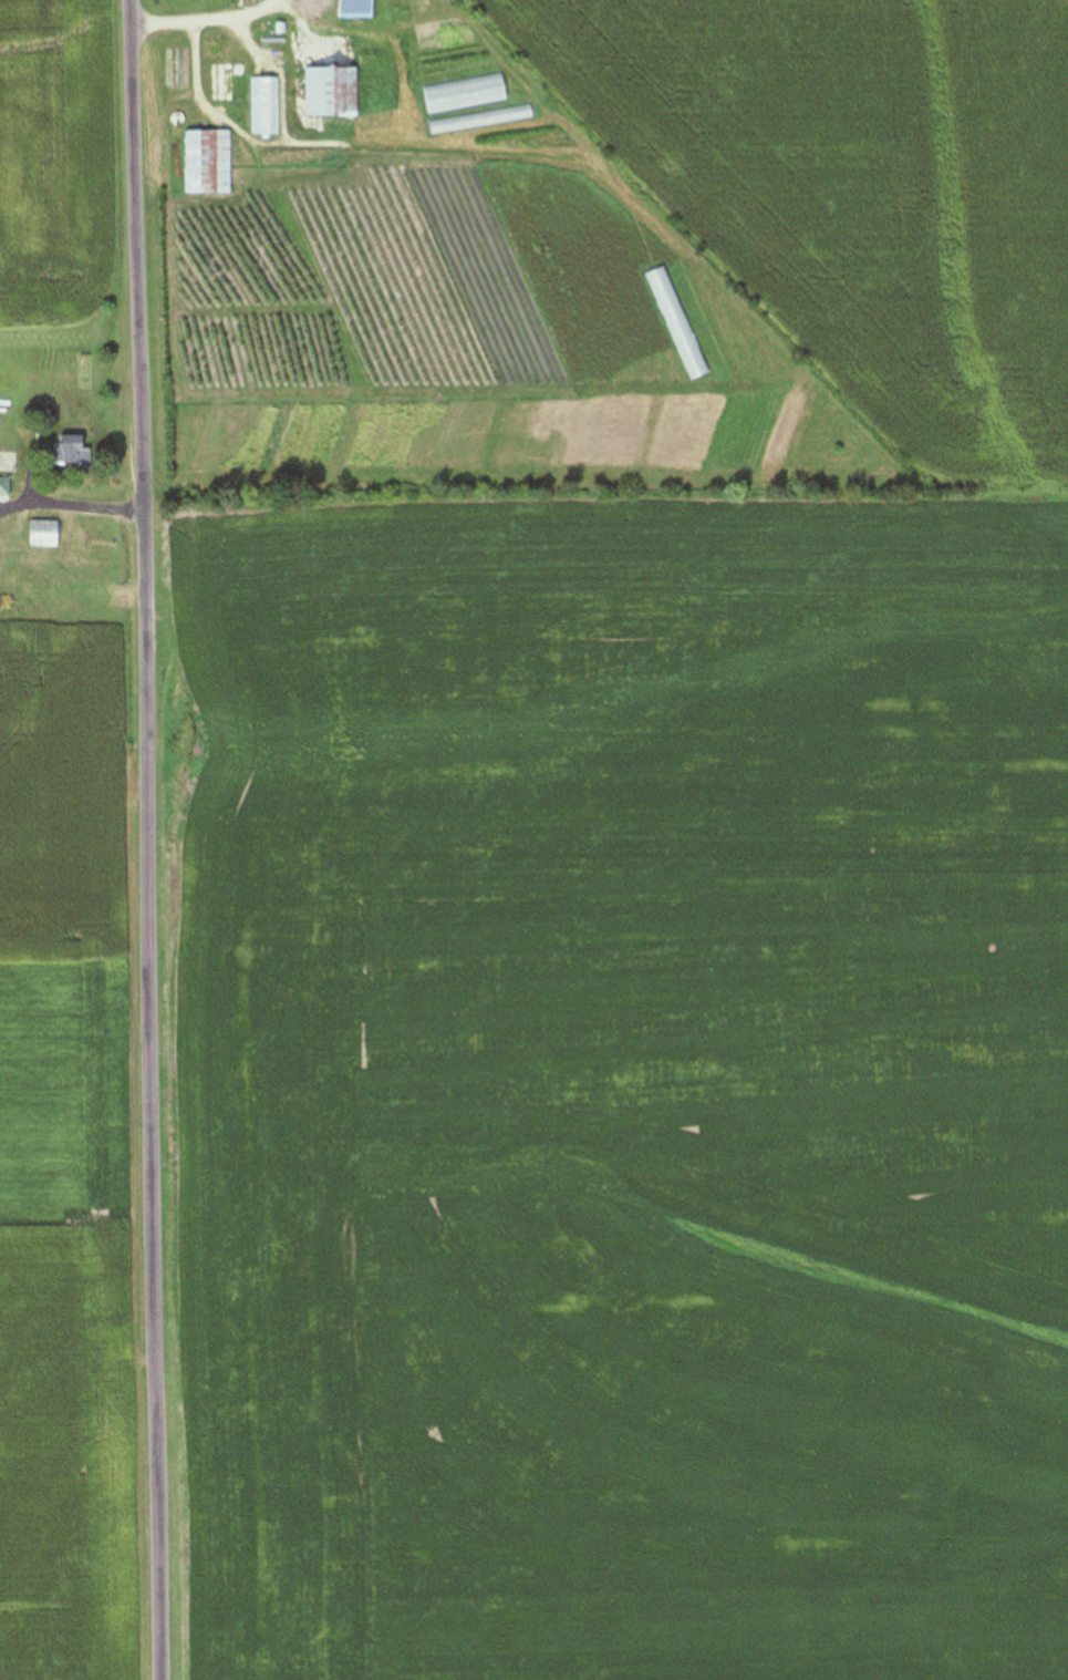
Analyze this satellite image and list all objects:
road: (198, 18)
road: (187, 69)
building: (225, 82)
building: (331, 92)
building: (253, 96)
building: (207, 163)
building: (390, 202)
building: (71, 453)
building: (7, 463)
building: (4, 487)
road: (69, 507)
building: (44, 535)
building: (72, 590)
road: (145, 839)

